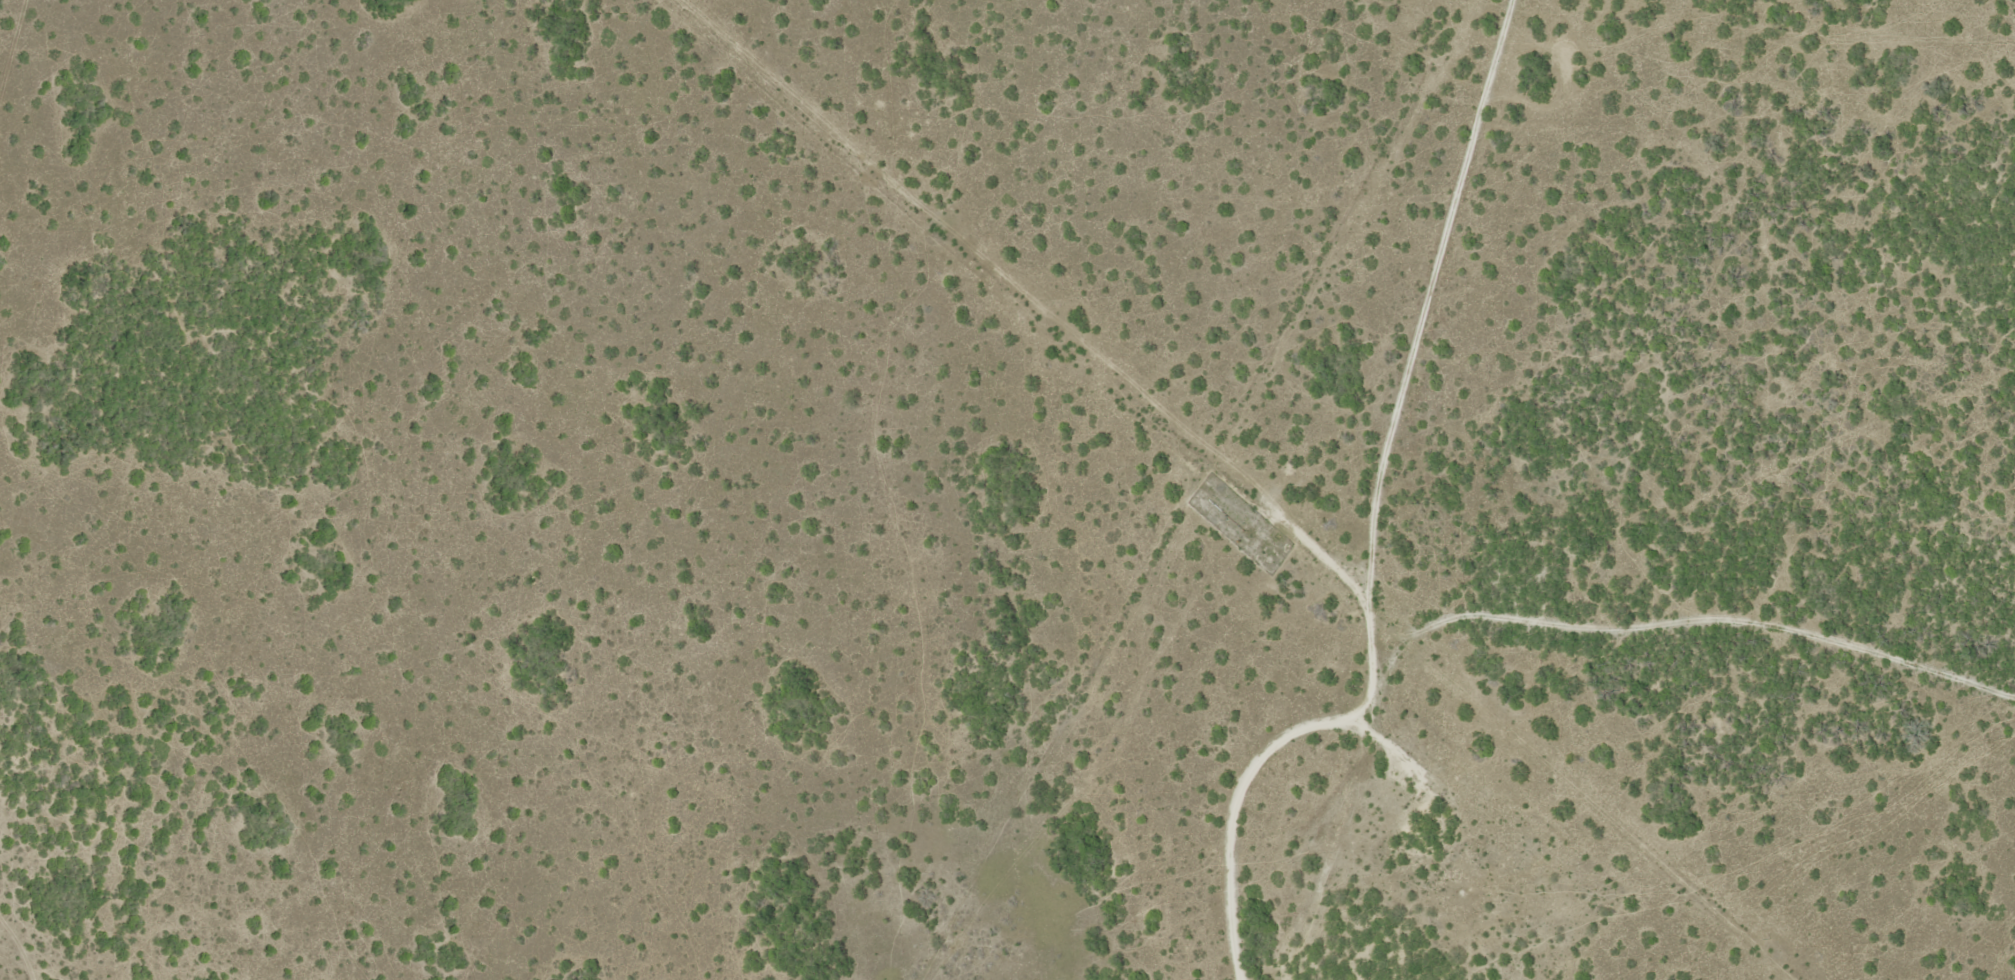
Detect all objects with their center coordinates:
road: (1247, 798)

